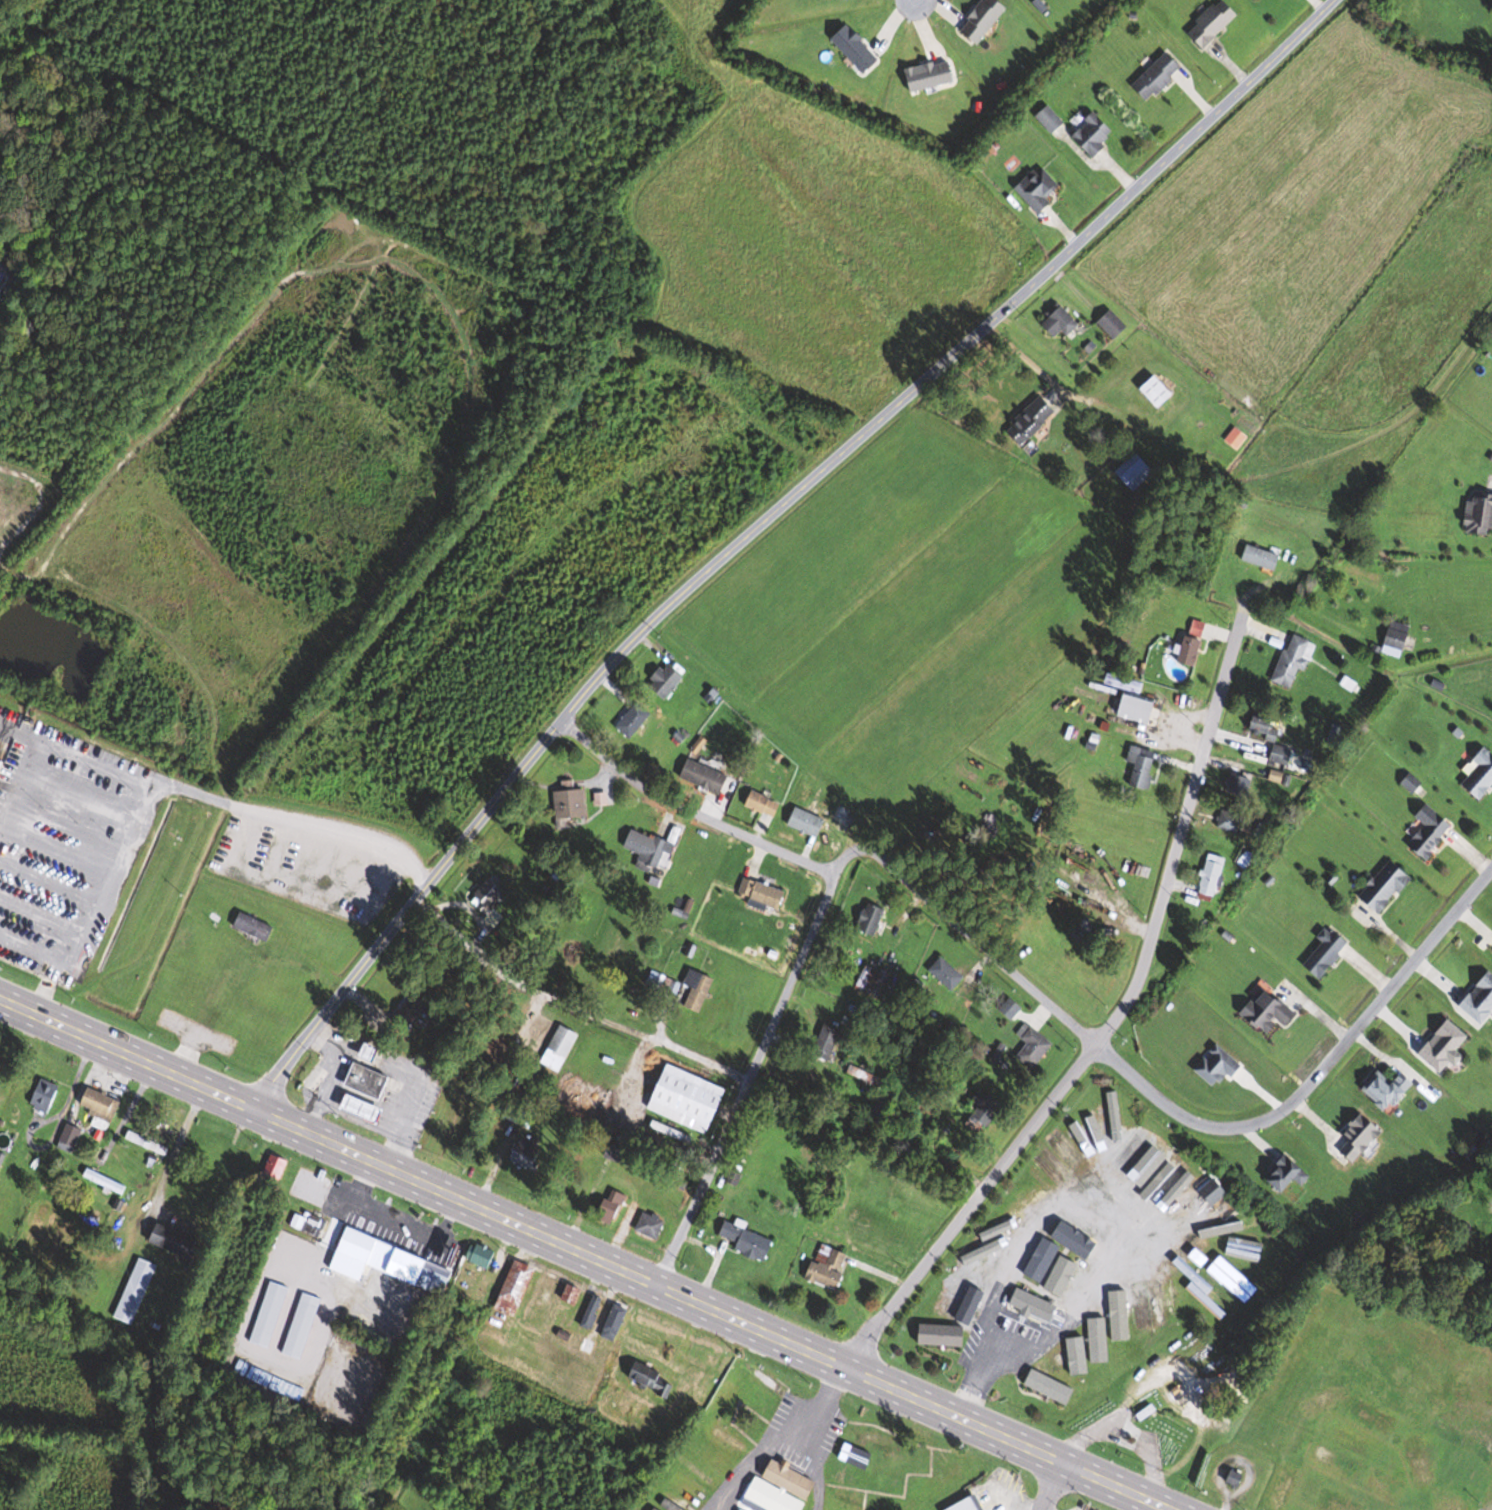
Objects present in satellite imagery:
road: (912, 1)
building: (1214, 22)
building: (1158, 76)
building: (1050, 119)
building: (1094, 134)
building: (1039, 189)
building: (1060, 321)
building: (1112, 324)
building: (1157, 391)
building: (1032, 420)
building: (1135, 471)
building: (1479, 514)
road: (759, 524)
building: (1261, 557)
building: (1397, 639)
building: (1193, 641)
building: (1294, 660)
building: (667, 678)
building: (1124, 683)
building: (1138, 710)
building: (632, 720)
building: (1265, 728)
building: (4, 751)
building: (1281, 754)
building: (1141, 766)
building: (1481, 775)
building: (704, 776)
building: (1237, 783)
road: (194, 793)
building: (763, 804)
building: (569, 806)
road: (688, 812)
building: (842, 815)
building: (1229, 821)
building: (806, 822)
building: (1431, 831)
building: (649, 851)
building: (1246, 860)
building: (1211, 875)
building: (1387, 887)
building: (762, 893)
building: (487, 896)
road: (97, 899)
building: (871, 919)
building: (254, 926)
road: (964, 930)
building: (1326, 953)
building: (1063, 963)
road: (1137, 968)
building: (946, 973)
building: (864, 978)
building: (664, 988)
building: (697, 990)
building: (1480, 998)
building: (415, 1006)
building: (1010, 1008)
building: (1269, 1013)
road: (1078, 1018)
building: (827, 1043)
building: (1032, 1046)
building: (1445, 1047)
building: (559, 1048)
building: (371, 1052)
road: (691, 1055)
building: (937, 1055)
building: (1219, 1066)
road: (1316, 1074)
gas station: (362, 1080)
building: (368, 1081)
road: (747, 1081)
building: (1389, 1090)
building: (45, 1096)
building: (688, 1099)
building: (930, 1104)
building: (99, 1105)
building: (363, 1109)
building: (982, 1112)
building: (522, 1116)
building: (670, 1133)
building: (69, 1138)
building: (1360, 1138)
building: (1081, 1139)
building: (146, 1143)
building: (524, 1153)
building: (619, 1155)
building: (1149, 1159)
building: (275, 1166)
building: (1288, 1174)
building: (104, 1182)
building: (1214, 1192)
building: (610, 1208)
building: (305, 1224)
building: (649, 1225)
building: (1085, 1229)
building: (995, 1234)
building: (175, 1240)
building: (744, 1240)
building: (357, 1254)
building: (480, 1255)
road: (587, 1255)
building: (1039, 1262)
building: (828, 1267)
building: (420, 1271)
building: (1193, 1276)
building: (1071, 1279)
building: (959, 1283)
building: (514, 1287)
building: (135, 1290)
building: (546, 1290)
building: (571, 1294)
building: (1028, 1304)
building: (954, 1309)
building: (592, 1311)
building: (268, 1314)
building: (1109, 1321)
building: (614, 1322)
building: (301, 1325)
building: (944, 1338)
building: (1066, 1356)
building: (1485, 1371)
building: (651, 1377)
building: (766, 1382)
building: (1050, 1389)
building: (726, 1396)
building: (1470, 1396)
building: (1326, 1401)
road: (779, 1435)
building: (726, 1438)
building: (869, 1440)
building: (1337, 1460)
building: (1423, 1475)
building: (949, 1476)
road: (1049, 1484)
building: (1389, 1485)
building: (779, 1489)
building: (1280, 1489)
building: (854, 1501)
building: (1450, 1501)
building: (968, 1504)
building: (1342, 1504)
building: (649, 1507)

